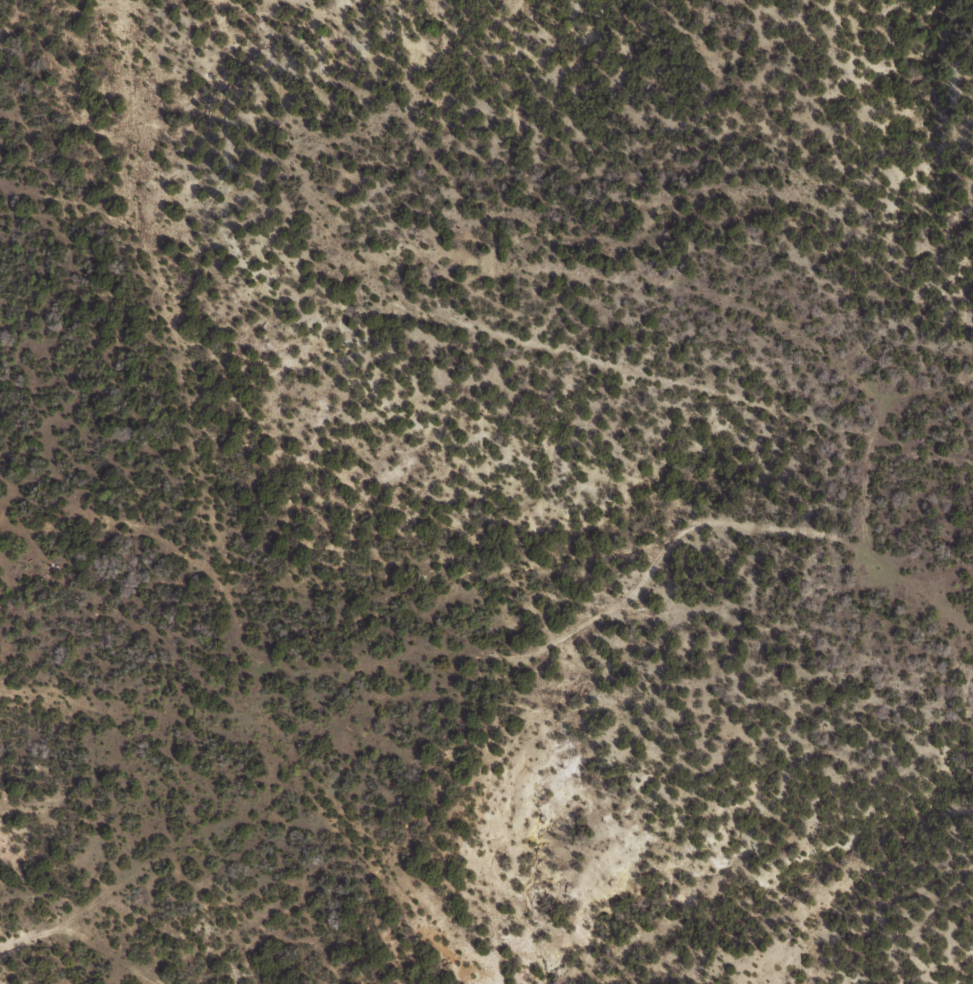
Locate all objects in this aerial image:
road: (152, 791)
road: (76, 935)

